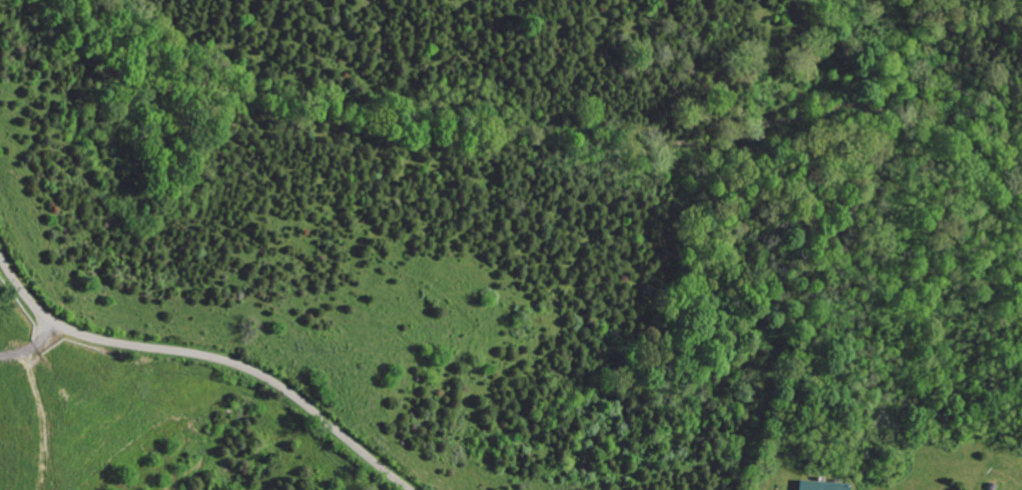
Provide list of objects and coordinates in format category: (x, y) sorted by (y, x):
road: (34, 348)
road: (208, 356)

